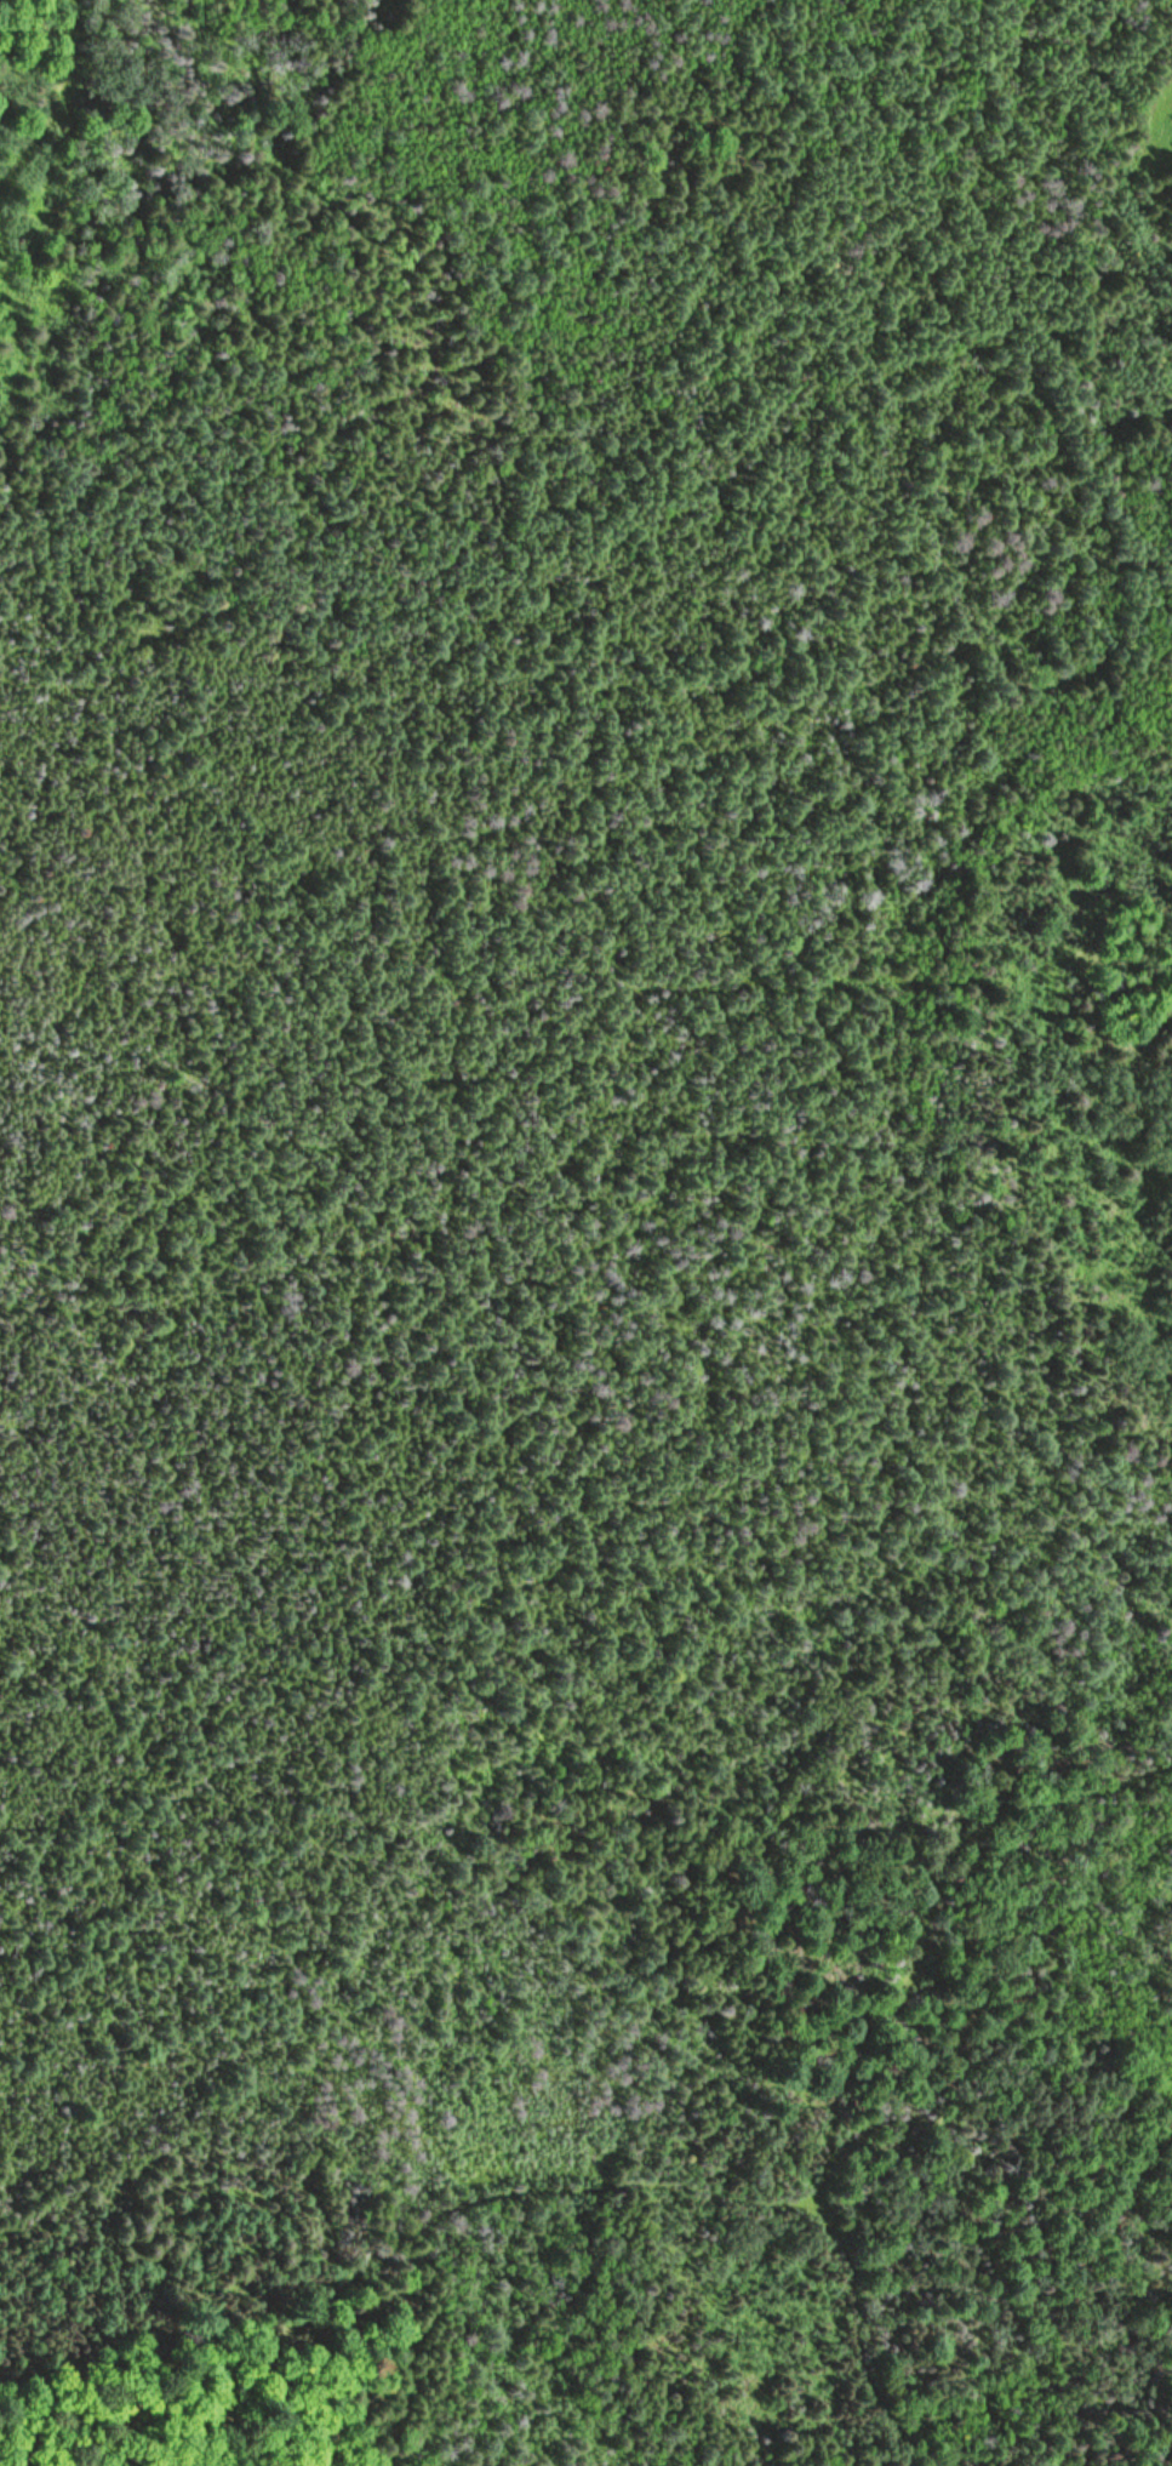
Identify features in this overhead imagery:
road: (869, 685)

